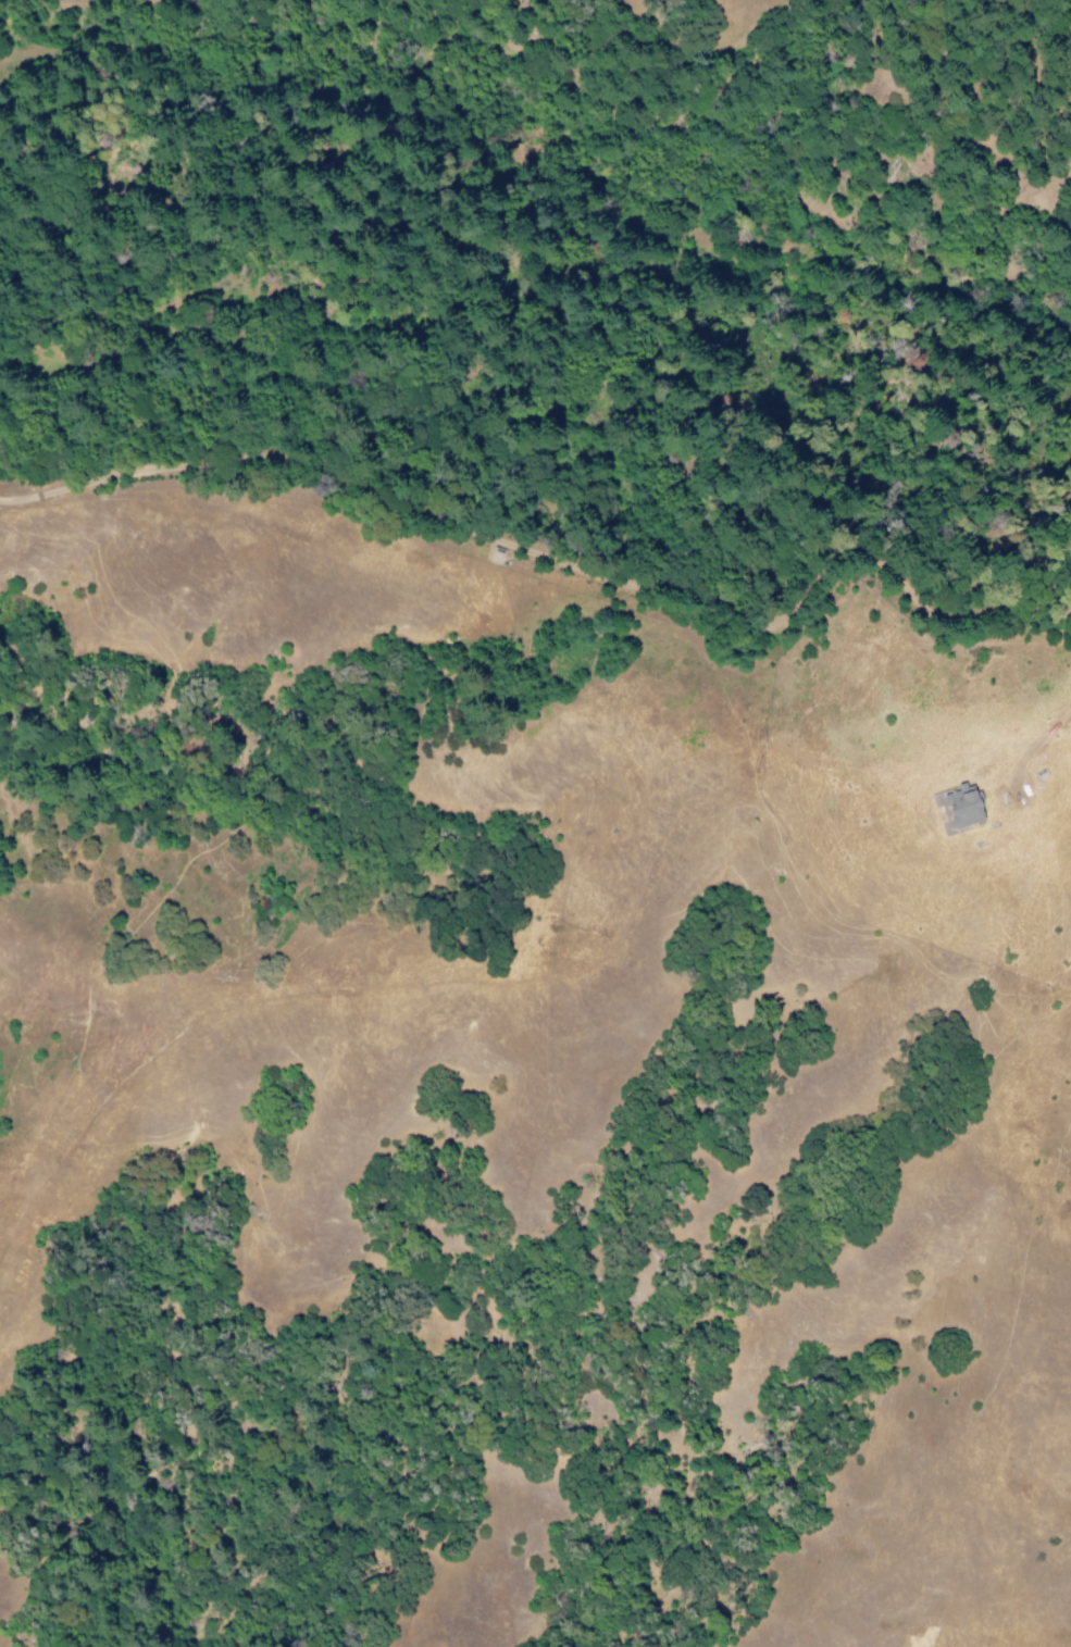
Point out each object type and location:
road: (540, 579)
building: (958, 808)

